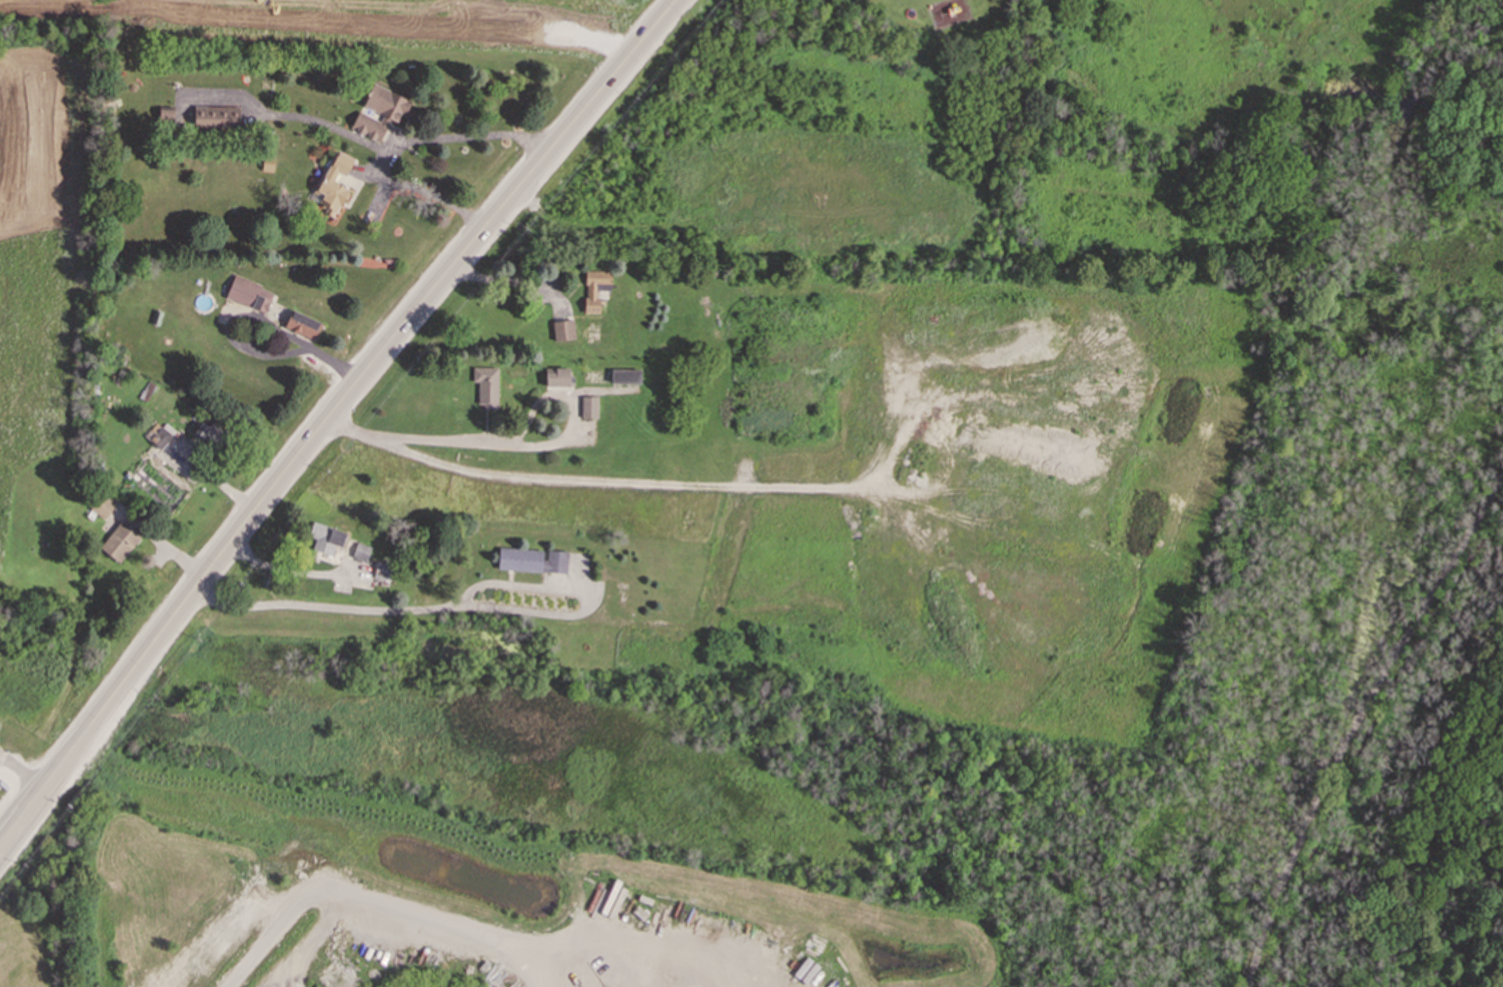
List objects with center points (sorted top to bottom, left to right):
building: (379, 112)
building: (215, 116)
road: (396, 143)
building: (333, 182)
building: (594, 288)
building: (248, 294)
building: (301, 324)
building: (562, 330)
building: (625, 375)
building: (557, 377)
building: (485, 383)
road: (554, 392)
building: (588, 406)
road: (329, 414)
building: (209, 433)
building: (157, 435)
road: (441, 439)
building: (101, 505)
building: (325, 537)
building: (119, 541)
building: (360, 551)
building: (531, 560)
building: (382, 570)
road: (342, 607)
road: (1360, 727)
road: (431, 918)
road: (256, 941)

